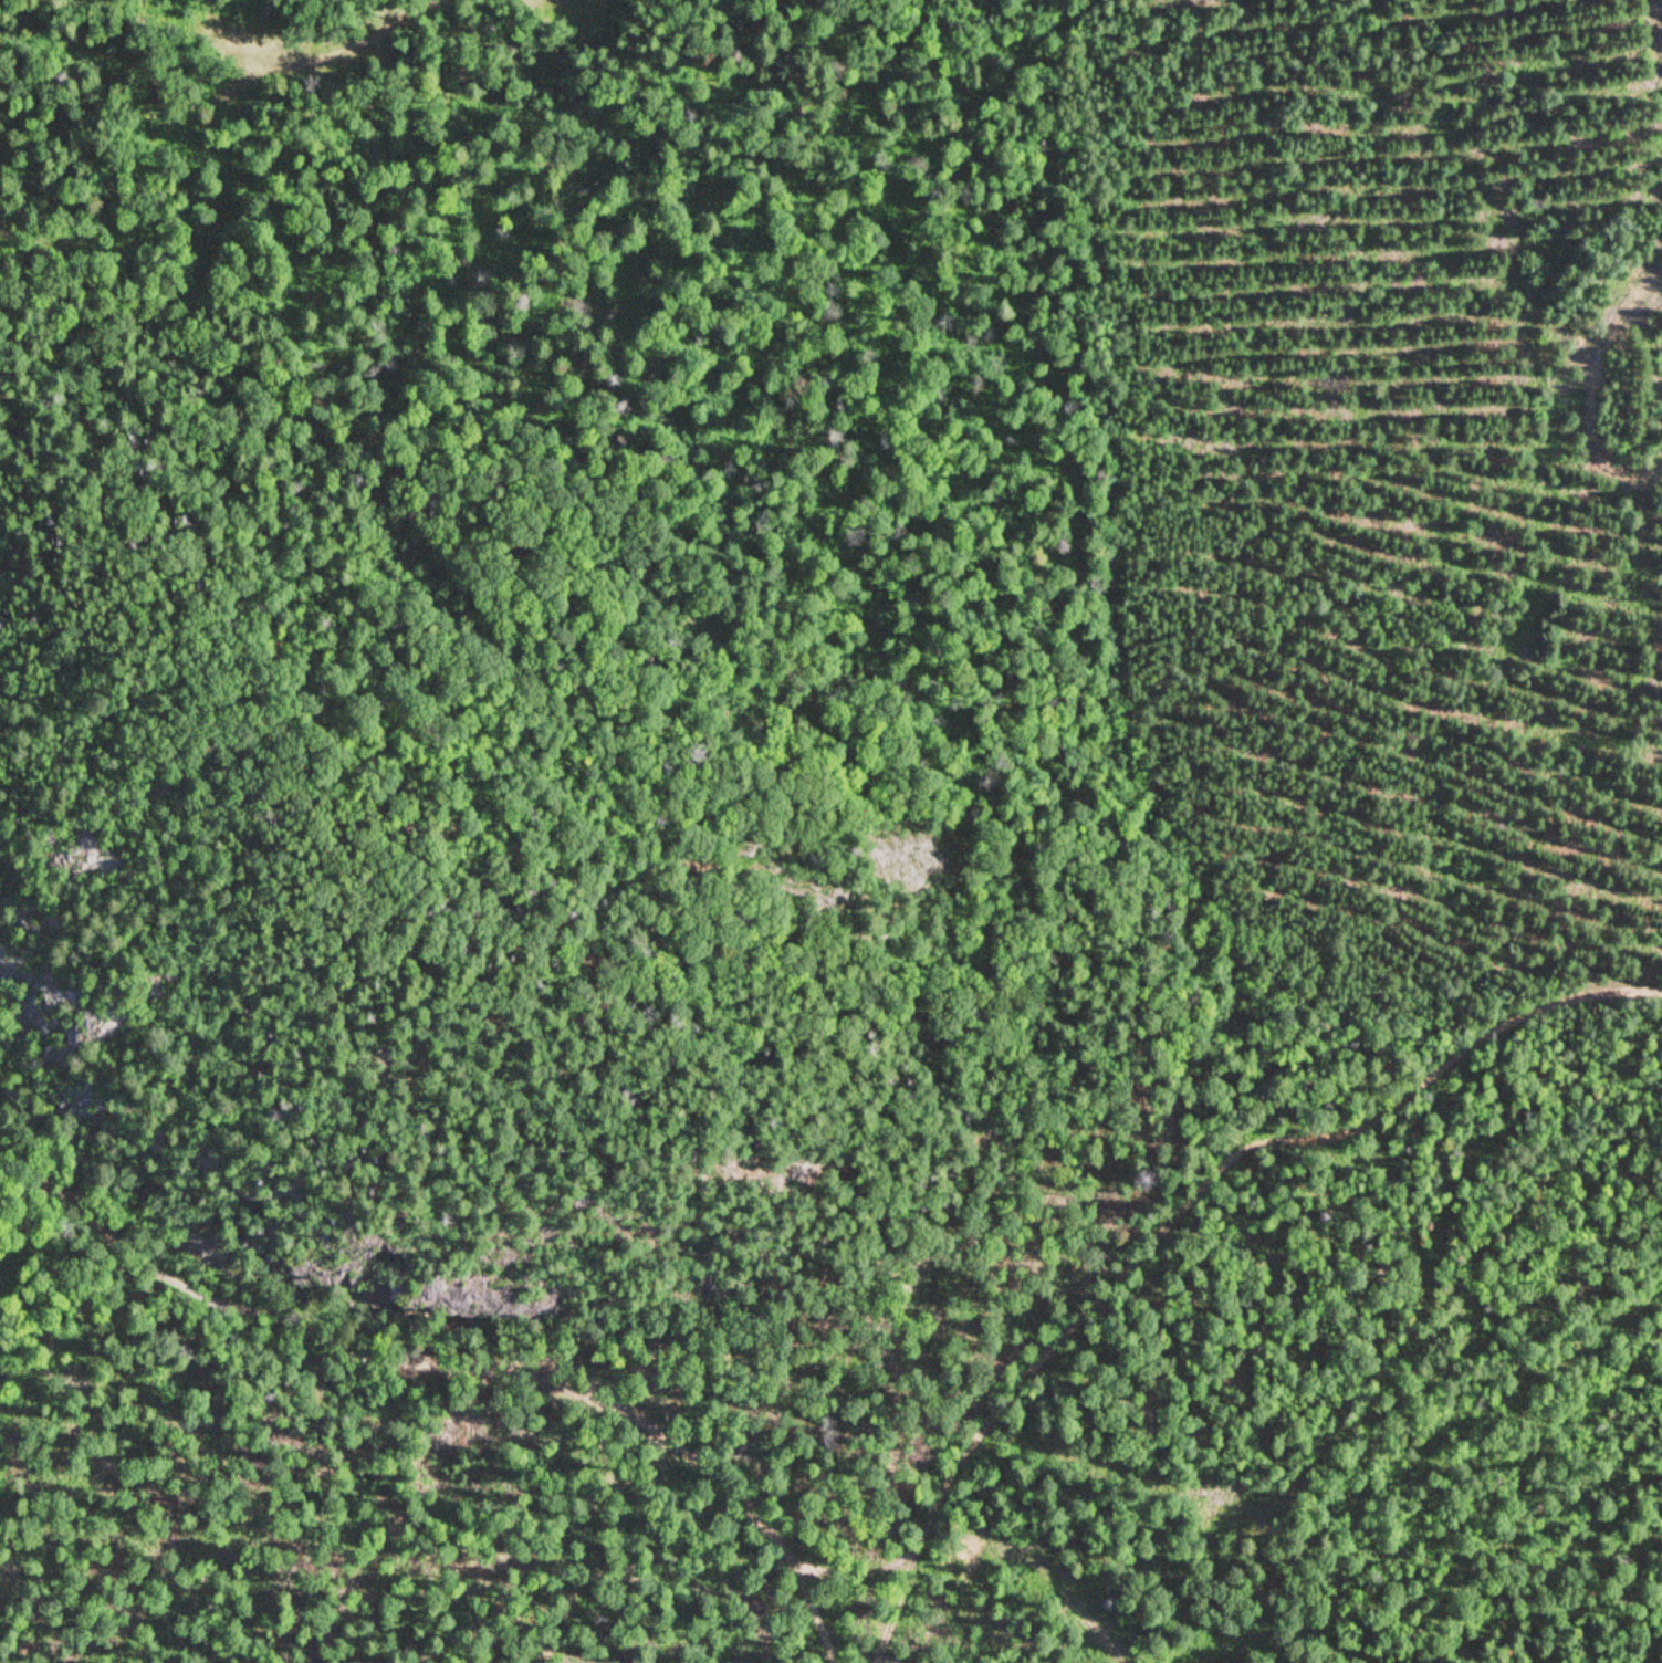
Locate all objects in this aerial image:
road: (1592, 390)
road: (1158, 1194)
road: (458, 1349)
building: (985, 1451)
road: (1037, 1565)

